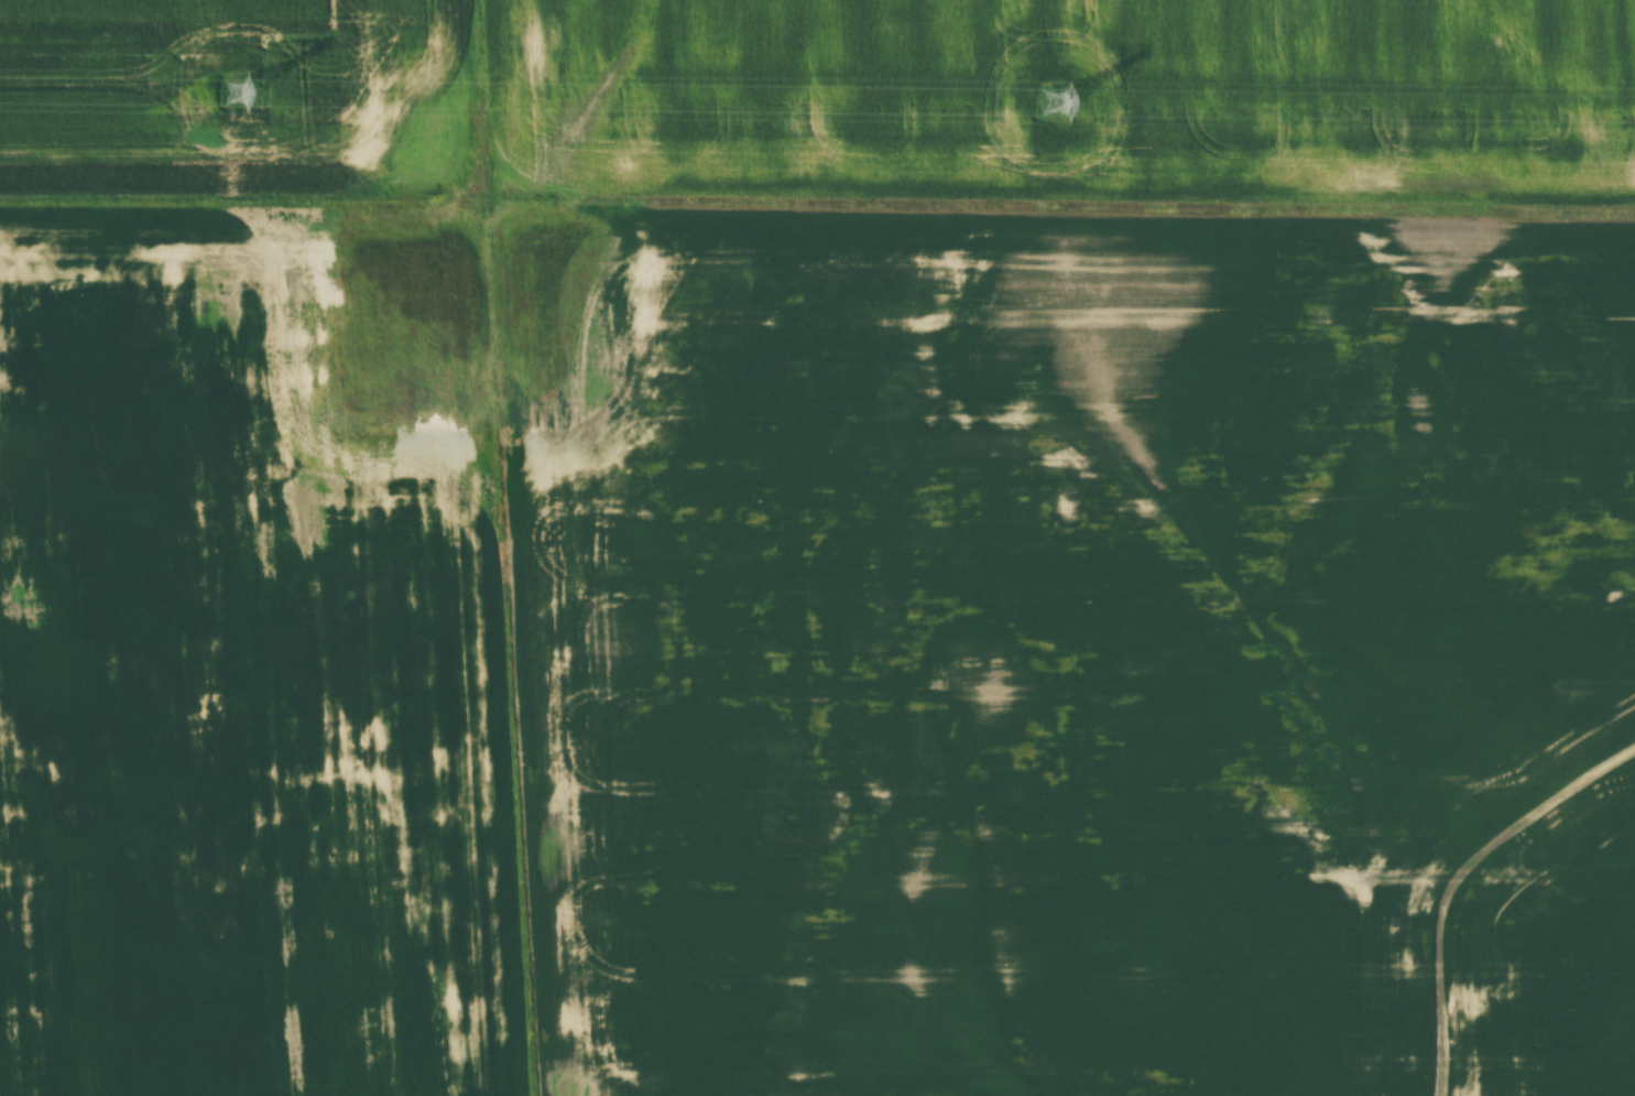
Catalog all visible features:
power tower: (1047, 82)
power tower: (217, 83)

